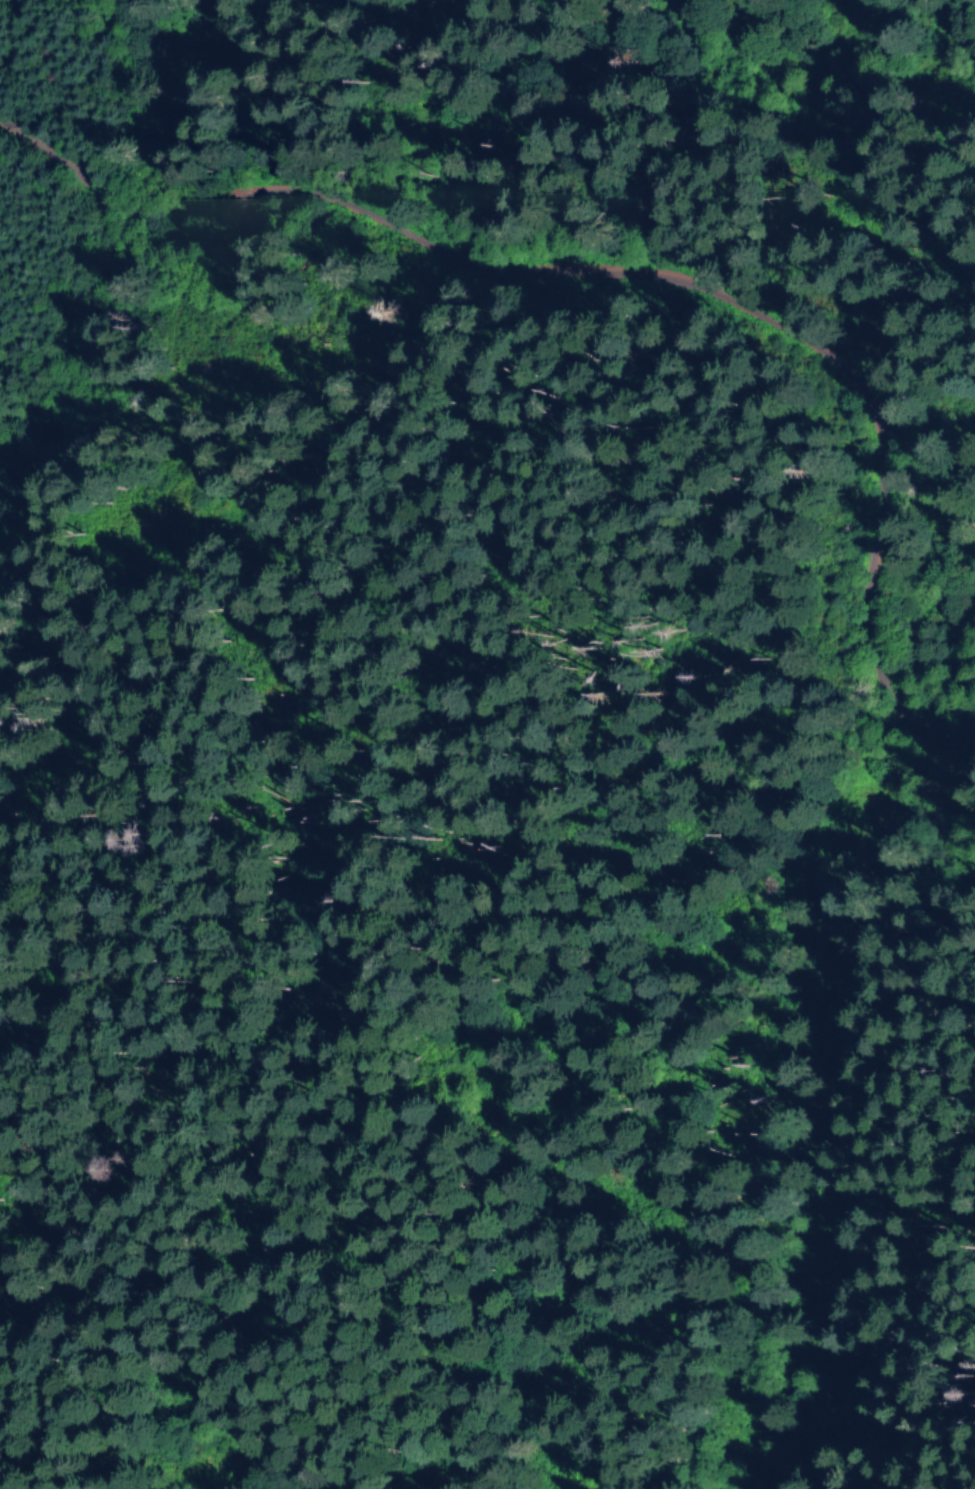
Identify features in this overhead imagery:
road: (613, 324)

